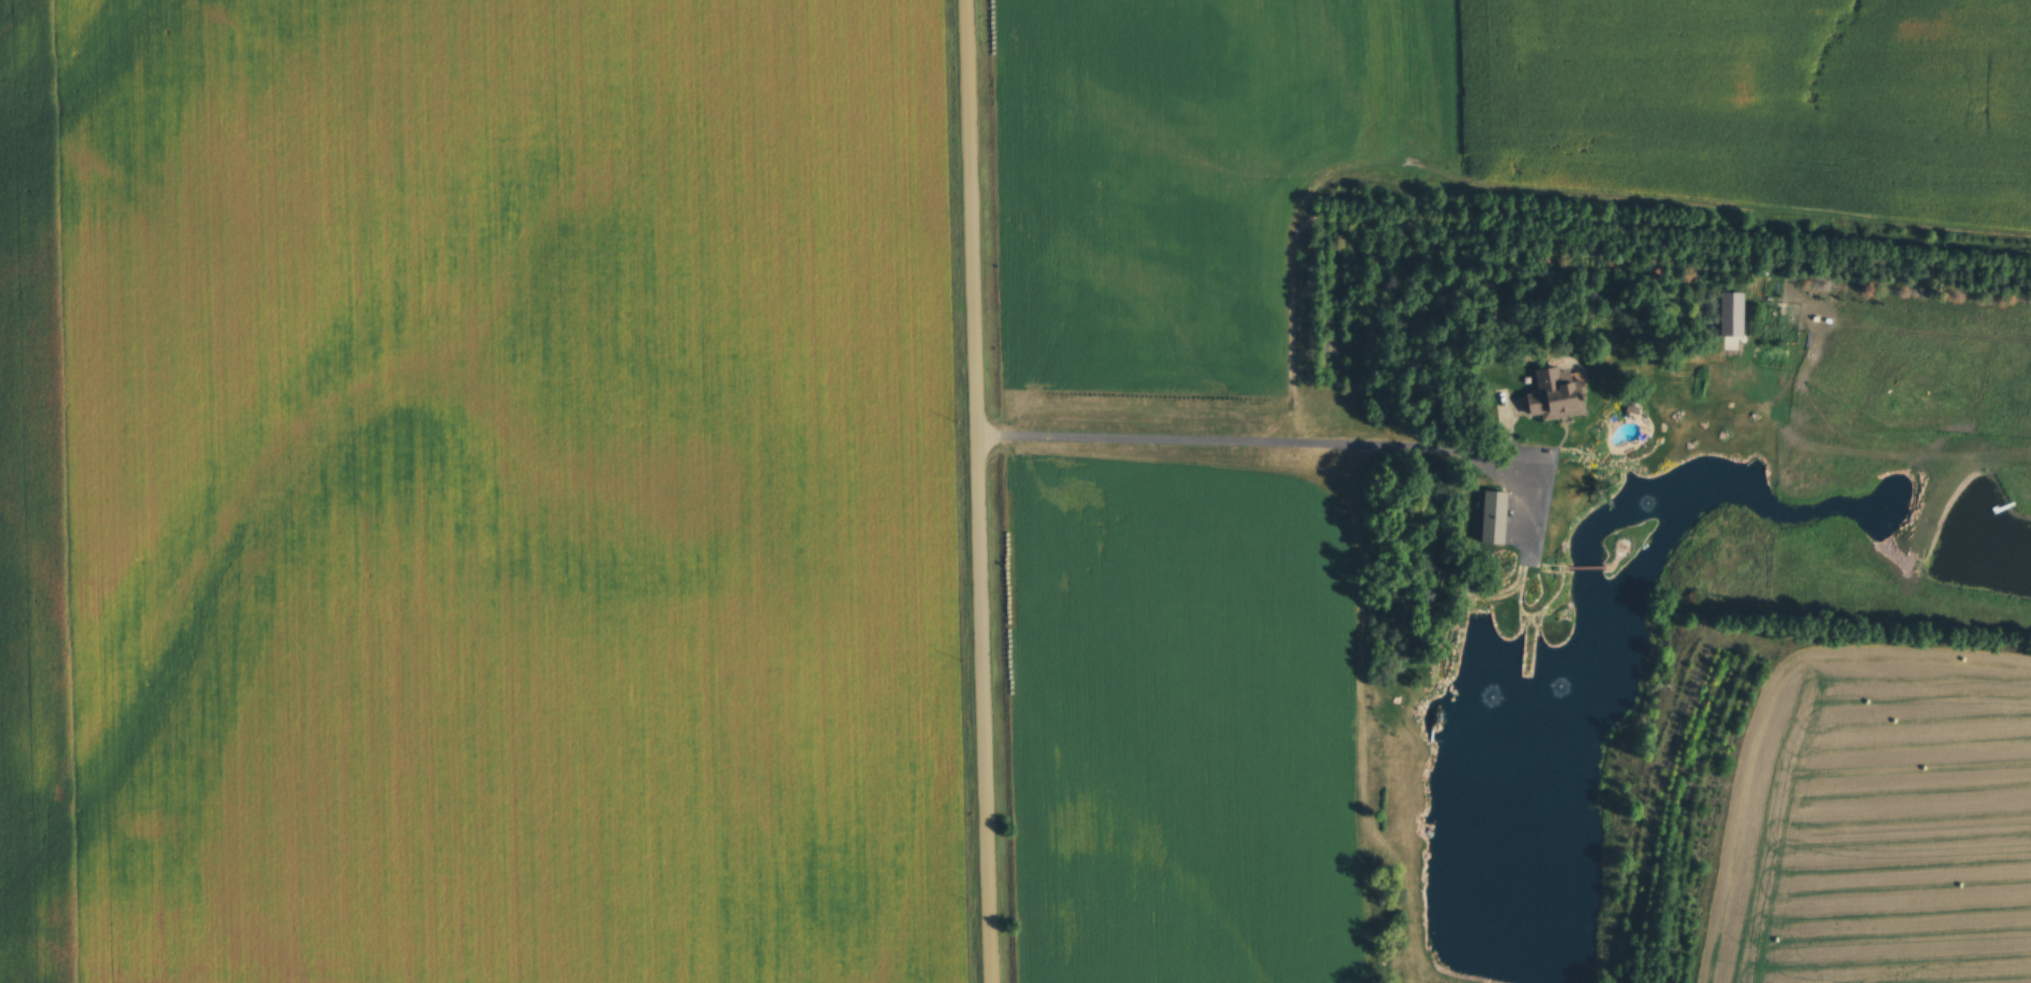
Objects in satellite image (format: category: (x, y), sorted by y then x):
building: (1552, 399)
road: (1280, 440)
road: (978, 491)
building: (1489, 518)

